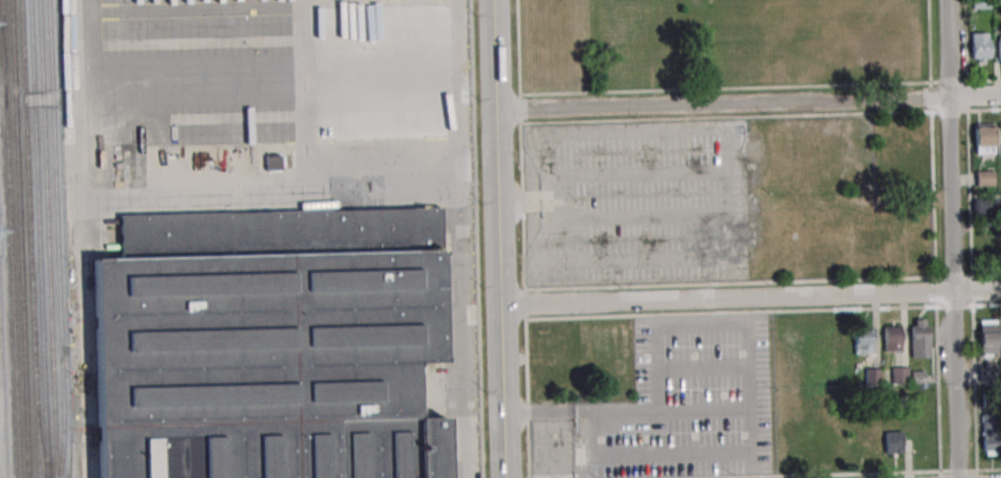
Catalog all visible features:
railway: (2, 37)
building: (981, 47)
building: (998, 50)
road: (749, 103)
building: (984, 138)
building: (999, 139)
building: (273, 163)
building: (985, 178)
road: (270, 195)
building: (986, 205)
railway: (39, 238)
railway: (48, 238)
road: (468, 238)
road: (500, 238)
railway: (10, 239)
railway: (20, 239)
railway: (30, 239)
railway: (57, 239)
road: (951, 239)
road: (751, 296)
building: (987, 337)
building: (892, 338)
building: (919, 338)
building: (863, 339)
building: (281, 347)
building: (899, 374)
power substation: (3, 376)
building: (872, 377)
road: (747, 402)
building: (991, 434)
building: (893, 442)
road: (670, 453)
road: (751, 464)

